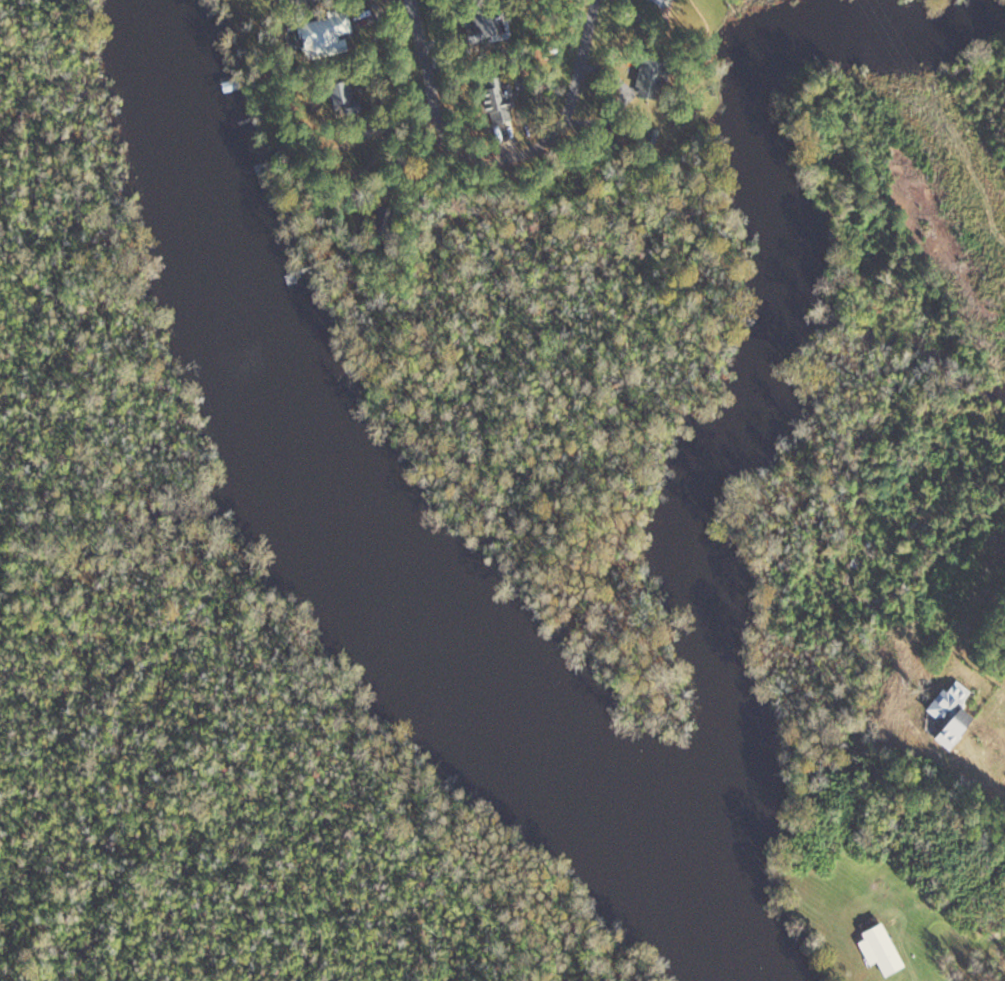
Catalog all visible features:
building: (488, 26)
building: (323, 34)
road: (423, 73)
building: (651, 79)
building: (228, 84)
building: (341, 94)
building: (496, 99)
road: (556, 125)
building: (950, 714)
building: (879, 946)

